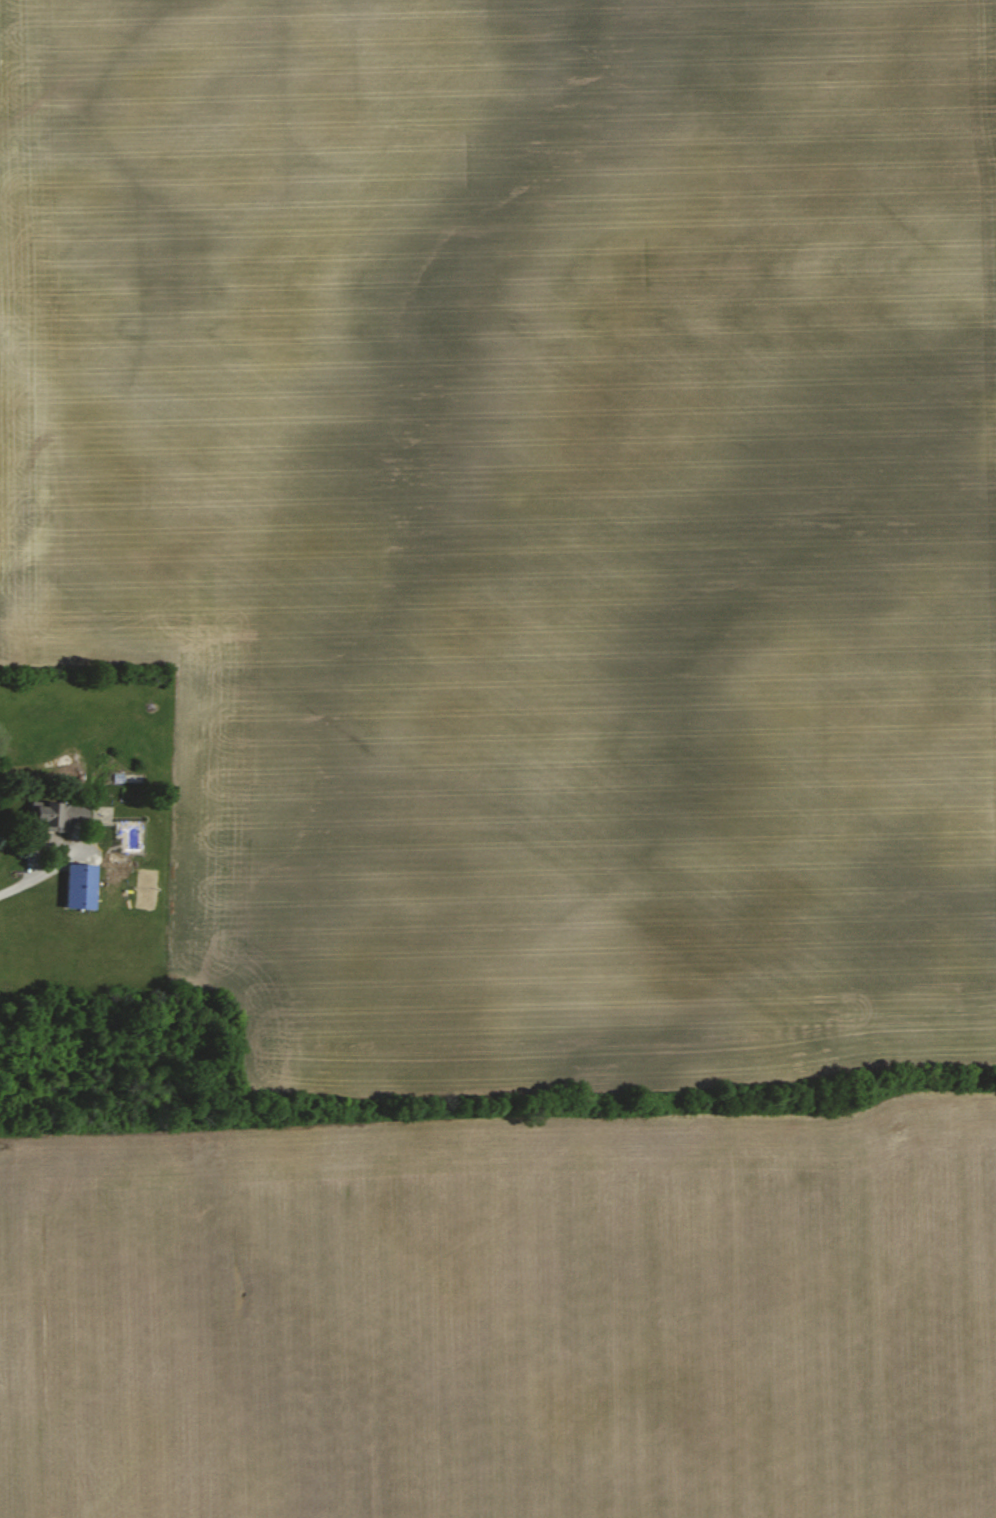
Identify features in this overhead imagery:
building: (64, 816)

